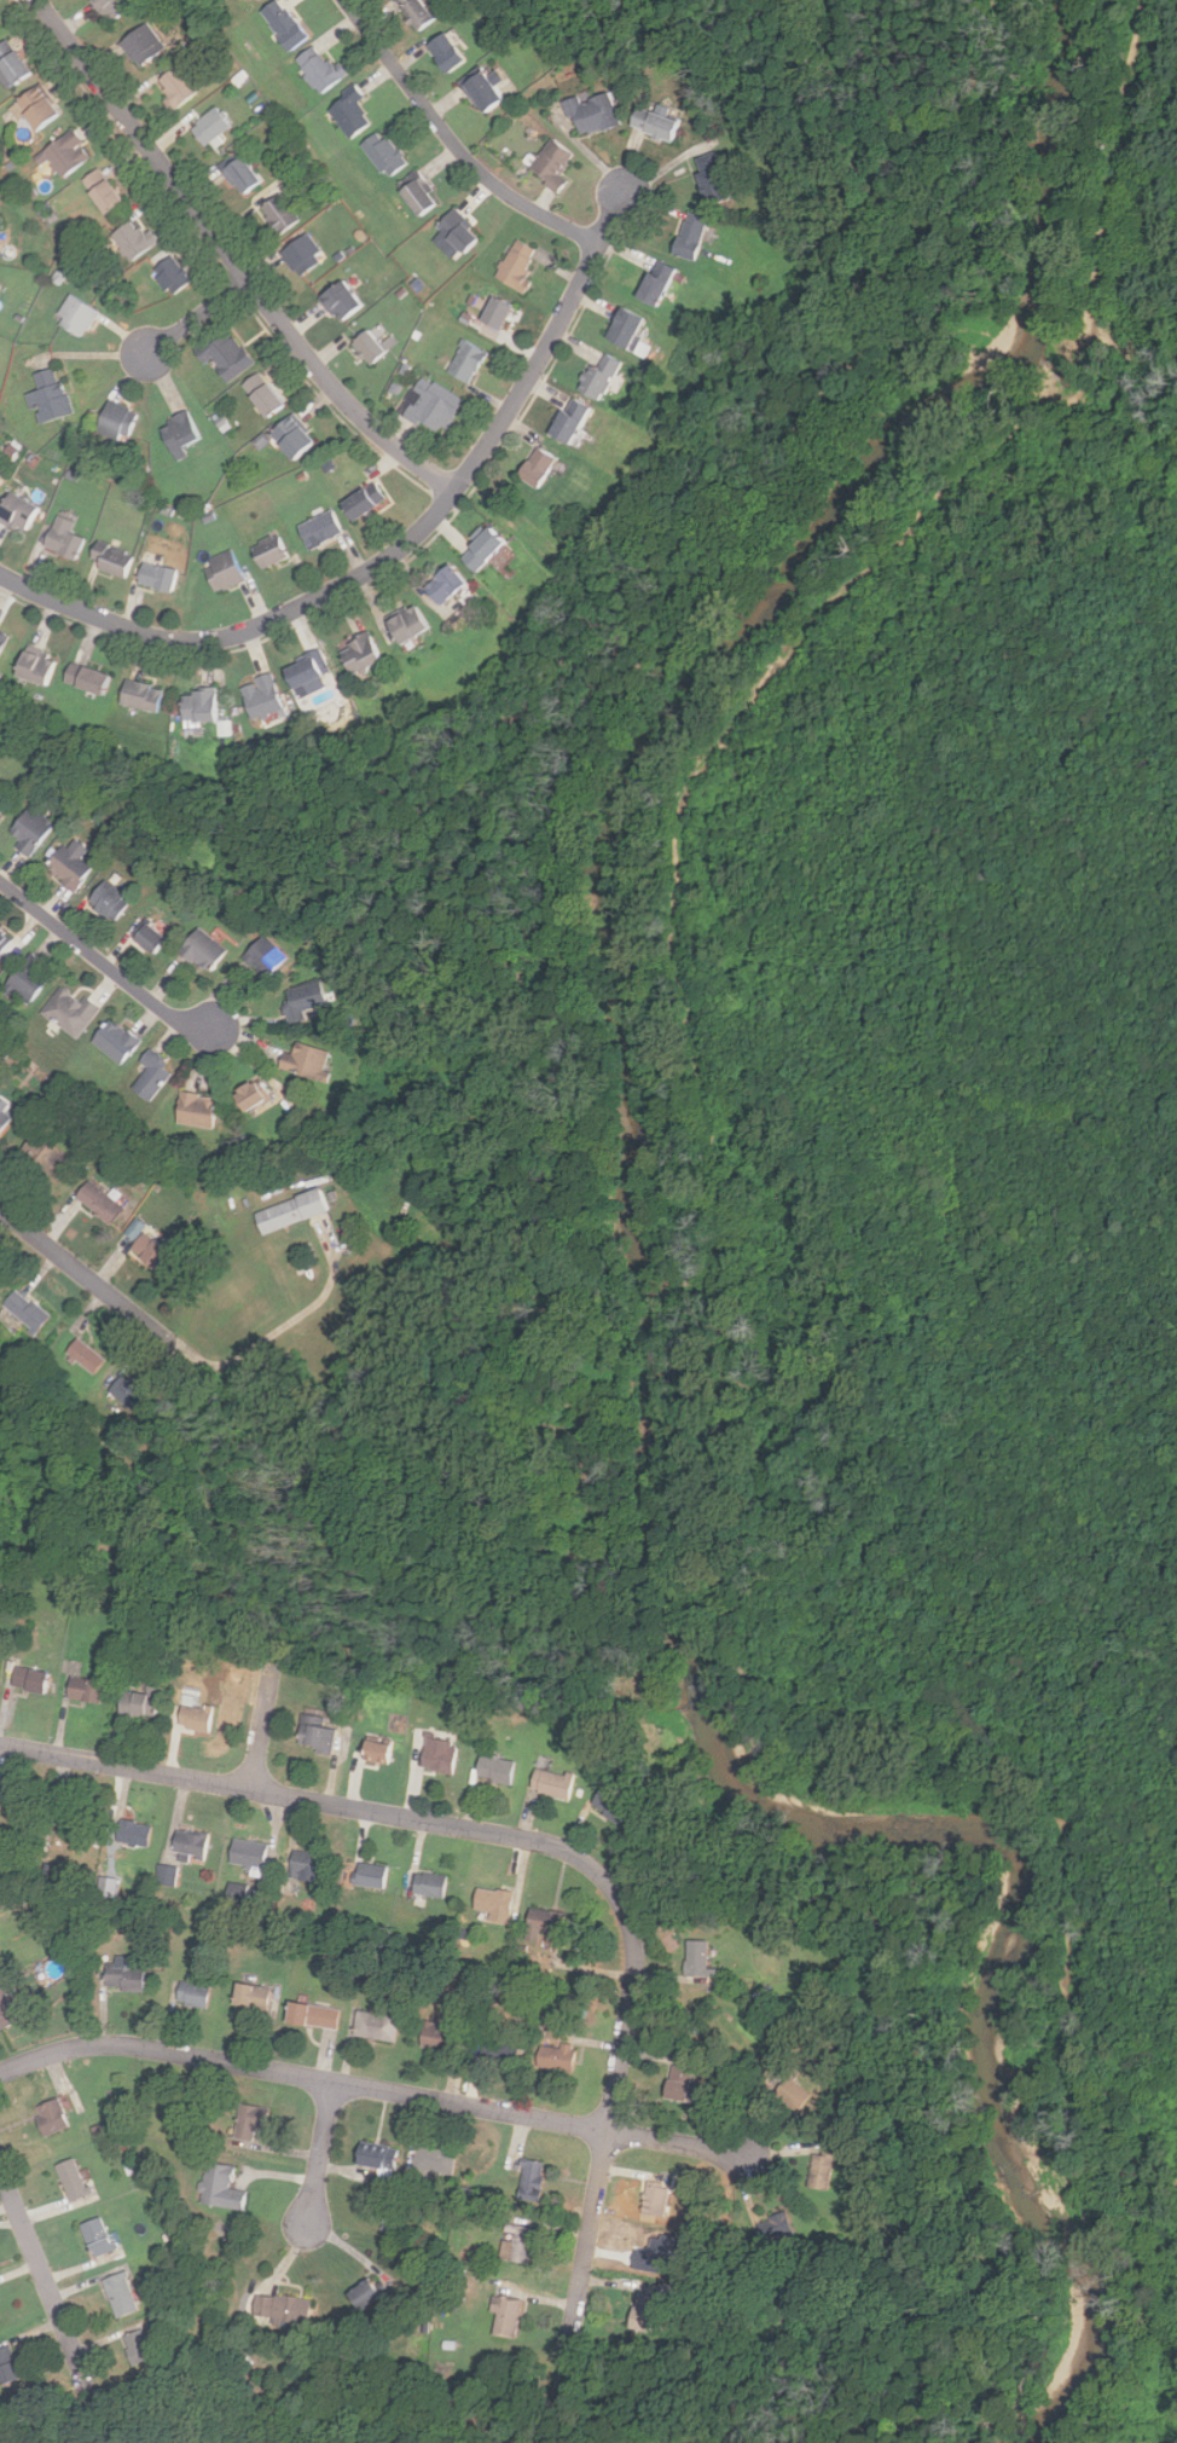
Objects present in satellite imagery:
building: (112, 8)
building: (417, 12)
building: (283, 25)
building: (0, 27)
building: (143, 45)
building: (445, 53)
building: (12, 65)
building: (318, 69)
river: (1061, 75)
building: (178, 88)
building: (482, 94)
building: (34, 110)
building: (350, 114)
building: (593, 115)
building: (654, 125)
building: (210, 127)
road: (451, 144)
building: (65, 155)
building: (383, 155)
building: (551, 166)
building: (242, 176)
building: (712, 178)
building: (102, 192)
building: (418, 197)
building: (278, 214)
building: (458, 232)
building: (690, 237)
building: (132, 241)
building: (303, 255)
road: (232, 257)
river: (1055, 257)
building: (516, 265)
building: (172, 276)
building: (655, 284)
building: (341, 301)
building: (497, 313)
building: (76, 317)
road: (198, 317)
building: (624, 328)
building: (369, 347)
building: (225, 355)
building: (466, 361)
building: (598, 377)
building: (262, 394)
building: (50, 396)
building: (430, 406)
building: (117, 421)
building: (569, 421)
building: (179, 434)
building: (291, 438)
building: (537, 468)
building: (363, 500)
building: (17, 513)
building: (319, 528)
building: (64, 538)
building: (481, 549)
building: (268, 551)
road: (395, 551)
building: (111, 558)
building: (224, 571)
building: (157, 577)
building: (443, 583)
building: (407, 623)
building: (2, 638)
building: (359, 653)
building: (35, 666)
building: (306, 668)
building: (87, 678)
building: (141, 695)
building: (261, 696)
river: (682, 700)
building: (199, 705)
building: (2, 801)
building: (31, 829)
building: (70, 863)
building: (110, 901)
building: (150, 938)
building: (4, 940)
building: (203, 950)
building: (266, 956)
road: (105, 965)
building: (28, 979)
building: (303, 1000)
building: (70, 1012)
building: (115, 1041)
building: (305, 1060)
building: (151, 1076)
building: (250, 1095)
building: (196, 1110)
building: (4, 1117)
building: (45, 1158)
building: (99, 1202)
building: (290, 1211)
building: (137, 1228)
building: (152, 1250)
road: (89, 1274)
building: (25, 1309)
road: (285, 1324)
river: (654, 1353)
building: (85, 1355)
building: (127, 1391)
building: (29, 1680)
building: (86, 1690)
building: (139, 1703)
building: (195, 1718)
road: (261, 1735)
building: (320, 1736)
building: (376, 1753)
building: (440, 1755)
building: (495, 1770)
building: (552, 1783)
building: (610, 1805)
building: (75, 1825)
building: (133, 1833)
building: (190, 1845)
road: (545, 1845)
building: (249, 1853)
building: (305, 1863)
building: (167, 1875)
building: (371, 1875)
building: (430, 1885)
building: (239, 1892)
river: (1019, 1894)
building: (493, 1901)
building: (545, 1921)
building: (0, 1958)
building: (697, 1958)
building: (124, 1981)
building: (192, 1996)
building: (253, 1996)
building: (7, 2008)
building: (313, 2015)
building: (377, 2026)
building: (435, 2036)
building: (500, 2048)
building: (555, 2056)
building: (682, 2083)
road: (371, 2089)
building: (792, 2092)
building: (51, 2117)
building: (250, 2119)
road: (320, 2153)
building: (377, 2155)
building: (435, 2159)
building: (821, 2169)
building: (71, 2178)
building: (530, 2178)
building: (220, 2187)
building: (657, 2198)
building: (775, 2225)
building: (98, 2235)
building: (518, 2242)
building: (660, 2256)
road: (46, 2282)
building: (121, 2292)
building: (364, 2293)
building: (283, 2309)
building: (643, 2311)
building: (506, 2316)
building: (138, 2345)
building: (7, 2366)

